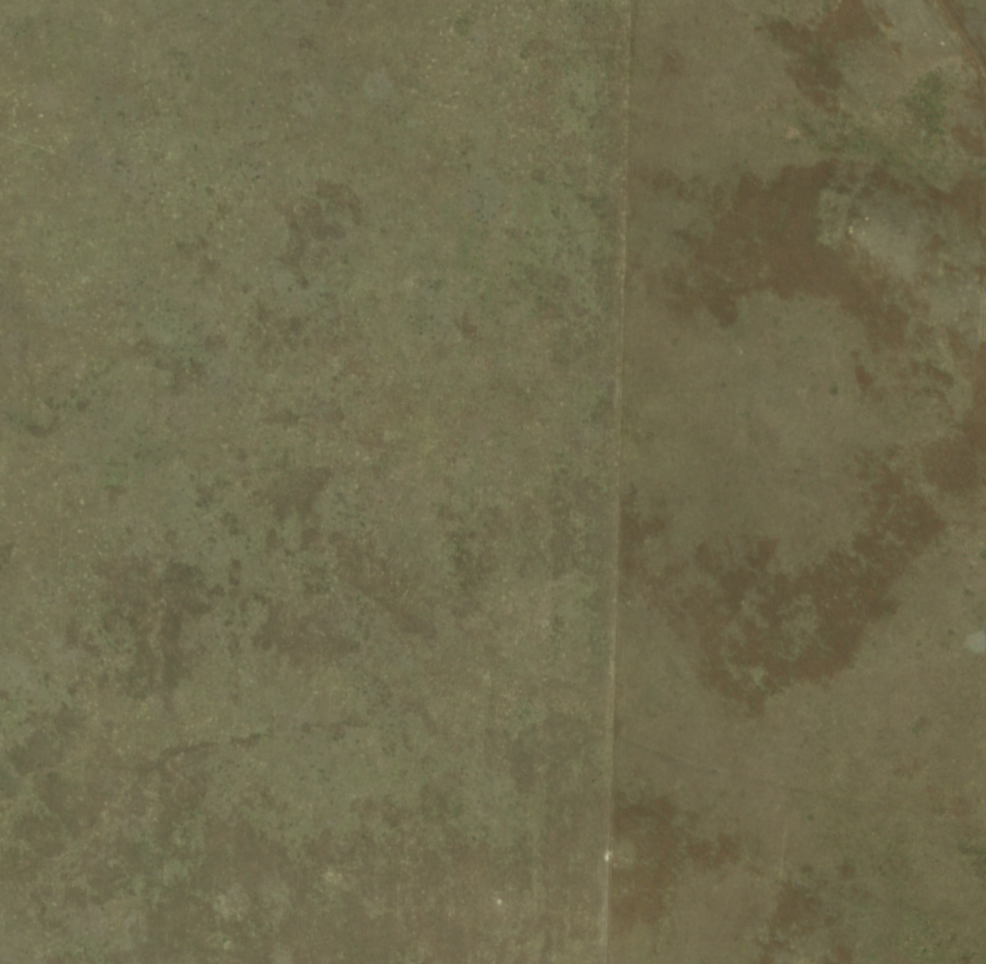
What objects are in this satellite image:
road: (965, 95)

